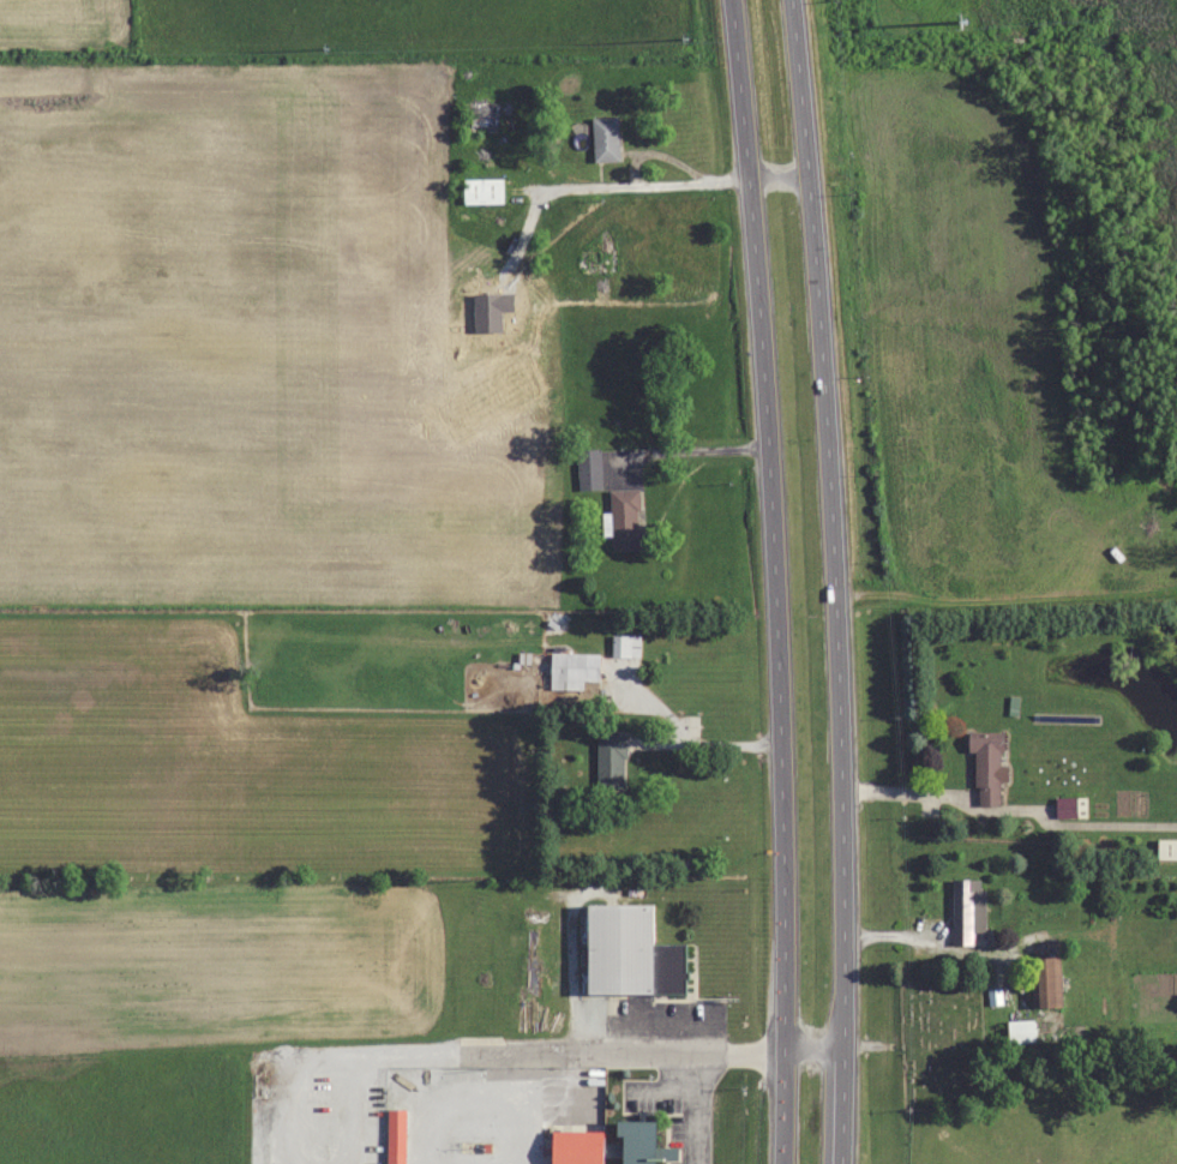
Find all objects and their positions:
building: (479, 116)
building: (605, 138)
road: (781, 178)
road: (639, 182)
building: (482, 191)
building: (596, 259)
road: (691, 448)
building: (588, 469)
building: (625, 520)
road: (776, 581)
road: (840, 581)
building: (625, 646)
building: (572, 670)
building: (609, 761)
building: (986, 766)
building: (1070, 806)
road: (1010, 811)
building: (1166, 850)
building: (966, 908)
building: (630, 953)
building: (1045, 973)
building: (1020, 1030)
building: (1069, 1033)
park: (942, 1043)
road: (562, 1054)
building: (395, 1135)
building: (641, 1142)
building: (576, 1146)

